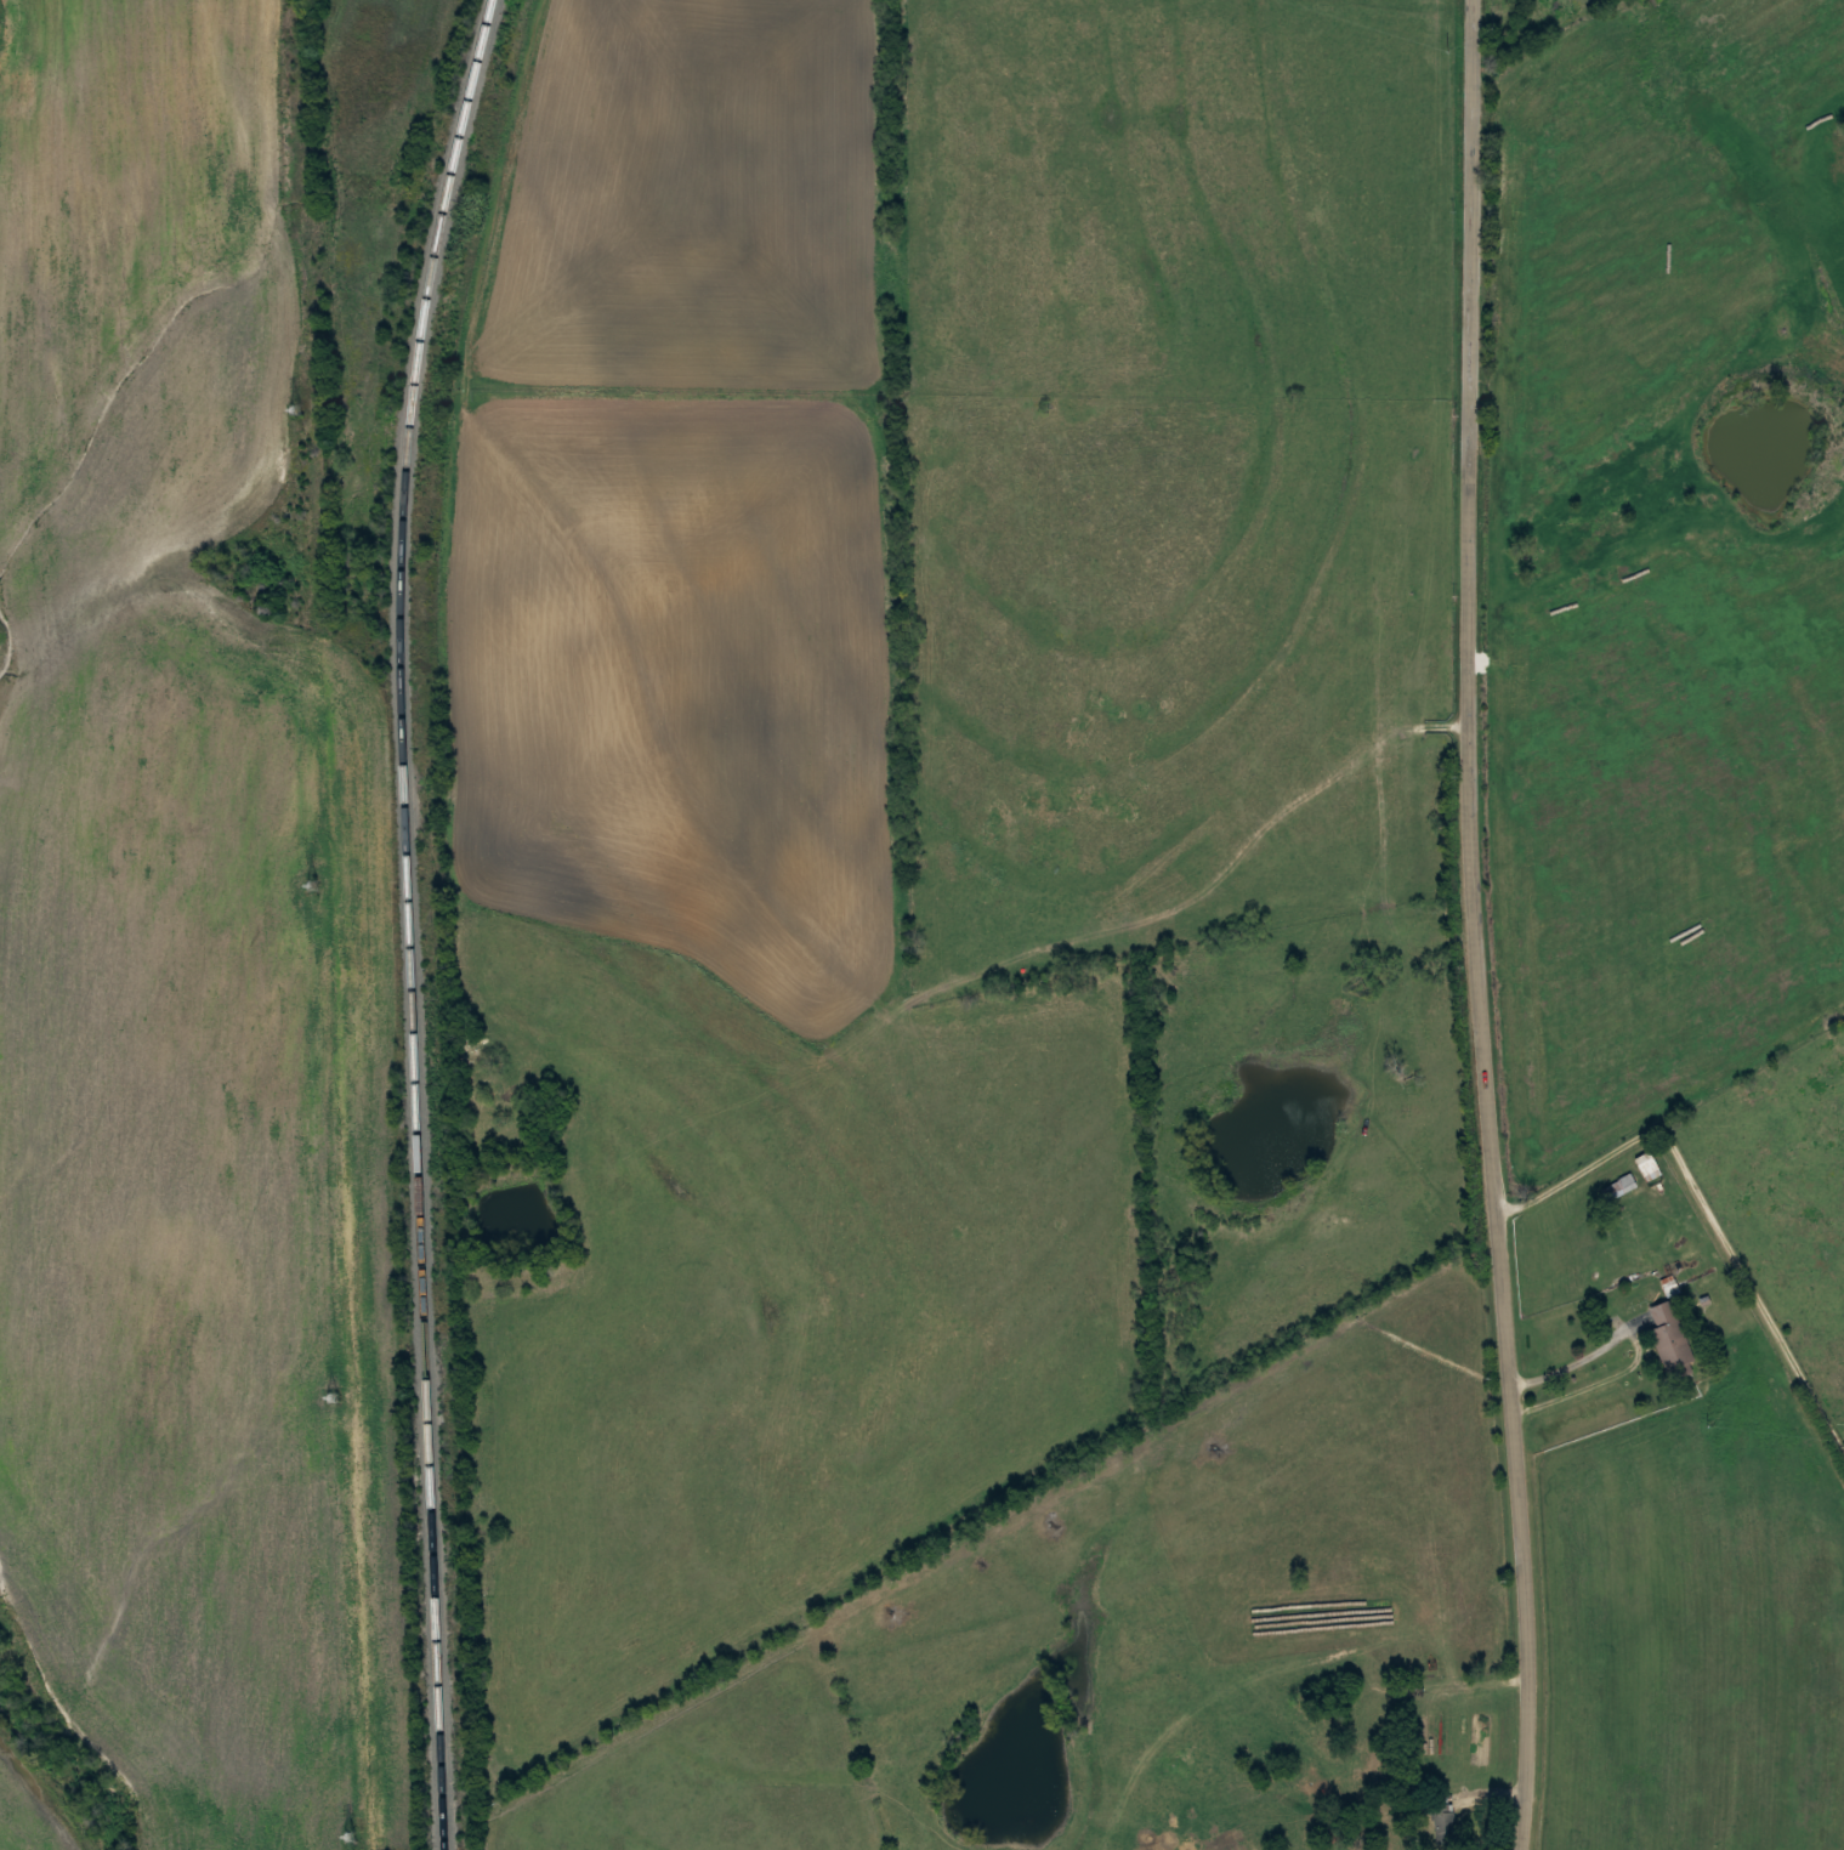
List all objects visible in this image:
power tower: (293, 410)
power tower: (316, 885)
railway: (407, 920)
road: (1473, 926)
building: (1647, 1165)
building: (1619, 1186)
building: (1672, 1339)
power tower: (333, 1397)
building: (1391, 1757)
building: (1447, 1822)
power tower: (346, 1835)
building: (1334, 1838)

